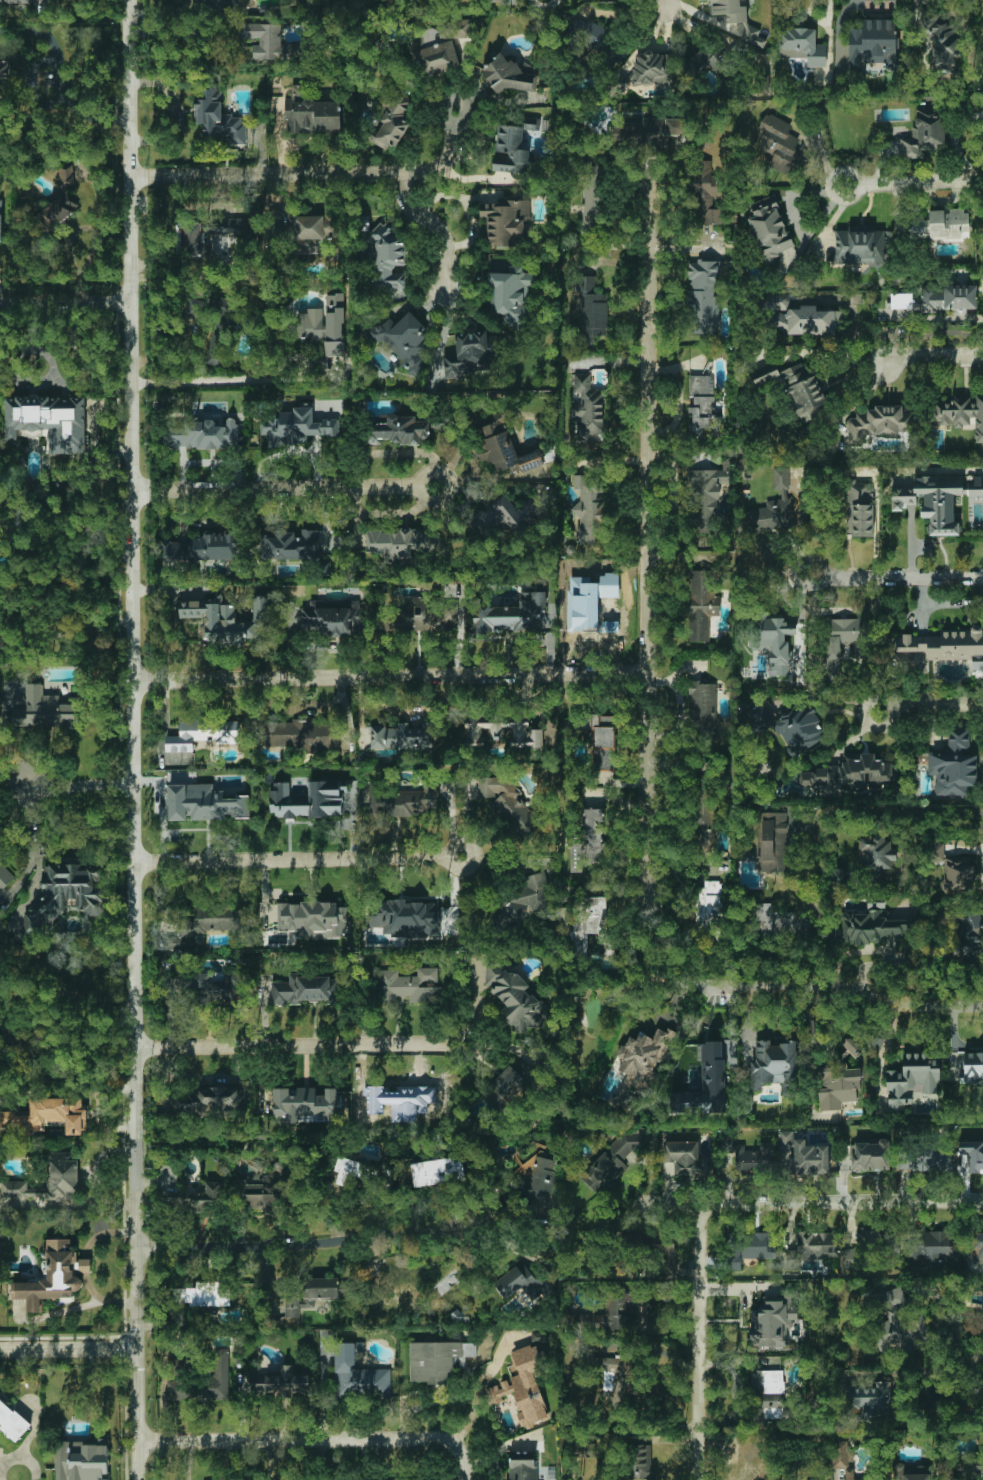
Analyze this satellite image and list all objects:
building: (21, 1)
building: (506, 1)
road: (158, 10)
building: (737, 19)
building: (942, 40)
building: (269, 42)
building: (874, 43)
building: (802, 46)
building: (439, 48)
building: (707, 58)
building: (648, 70)
building: (511, 75)
building: (5, 80)
building: (311, 113)
building: (218, 116)
road: (180, 117)
building: (393, 120)
building: (654, 131)
building: (924, 134)
building: (780, 145)
building: (511, 149)
road: (260, 150)
road: (850, 173)
road: (316, 175)
building: (66, 176)
road: (920, 182)
building: (704, 194)
building: (592, 195)
road: (790, 200)
building: (58, 211)
building: (1, 220)
building: (505, 221)
building: (229, 224)
road: (434, 225)
building: (939, 225)
building: (769, 226)
road: (808, 234)
building: (267, 236)
building: (191, 238)
building: (861, 246)
building: (387, 256)
building: (704, 297)
building: (939, 299)
road: (64, 301)
building: (194, 307)
building: (591, 308)
building: (800, 318)
road: (932, 318)
building: (325, 324)
building: (224, 329)
building: (403, 338)
building: (469, 354)
road: (931, 354)
road: (14, 373)
road: (232, 380)
building: (804, 392)
building: (701, 403)
building: (587, 408)
building: (960, 414)
building: (48, 421)
building: (878, 423)
building: (296, 426)
building: (401, 430)
building: (201, 435)
building: (504, 448)
road: (937, 470)
road: (275, 487)
road: (421, 492)
building: (705, 498)
building: (933, 501)
building: (773, 507)
building: (859, 509)
building: (587, 512)
building: (508, 515)
road: (649, 535)
building: (397, 543)
building: (290, 545)
building: (205, 547)
road: (893, 576)
building: (701, 604)
building: (422, 615)
building: (512, 615)
building: (332, 617)
building: (226, 619)
building: (4, 634)
building: (774, 641)
building: (842, 643)
building: (940, 648)
road: (389, 677)
road: (934, 703)
building: (702, 707)
building: (45, 710)
building: (794, 728)
building: (502, 731)
building: (203, 734)
building: (302, 734)
building: (401, 736)
road: (131, 740)
building: (605, 748)
road: (18, 757)
building: (954, 763)
building: (847, 774)
road: (78, 784)
building: (308, 799)
building: (402, 801)
building: (204, 803)
building: (509, 804)
road: (888, 811)
building: (702, 818)
road: (933, 825)
building: (589, 841)
building: (772, 842)
road: (453, 848)
building: (876, 855)
road: (291, 860)
building: (954, 870)
building: (5, 875)
building: (66, 892)
building: (707, 905)
building: (405, 918)
building: (313, 919)
building: (776, 921)
building: (209, 922)
building: (590, 923)
building: (873, 927)
building: (967, 938)
road: (648, 960)
building: (408, 985)
building: (307, 990)
road: (834, 990)
building: (171, 992)
building: (515, 998)
building: (4, 1027)
road: (452, 1040)
road: (882, 1044)
road: (292, 1047)
building: (852, 1047)
building: (728, 1049)
building: (643, 1058)
building: (774, 1065)
building: (973, 1067)
building: (912, 1080)
building: (705, 1084)
building: (509, 1085)
building: (837, 1085)
building: (208, 1101)
building: (412, 1101)
building: (305, 1103)
building: (48, 1116)
building: (973, 1155)
building: (871, 1156)
building: (688, 1158)
building: (809, 1158)
building: (928, 1159)
building: (611, 1163)
building: (354, 1170)
building: (438, 1171)
building: (49, 1181)
building: (538, 1181)
building: (269, 1191)
building: (197, 1200)
road: (811, 1202)
road: (101, 1233)
road: (307, 1244)
building: (931, 1244)
building: (816, 1245)
building: (653, 1247)
building: (977, 1247)
building: (749, 1248)
building: (869, 1248)
road: (84, 1266)
building: (53, 1276)
building: (519, 1283)
building: (320, 1287)
road: (91, 1288)
building: (202, 1294)
road: (85, 1305)
building: (292, 1306)
building: (610, 1313)
building: (458, 1316)
building: (893, 1317)
building: (769, 1323)
road: (696, 1342)
road: (68, 1348)
building: (438, 1360)
road: (980, 1367)
building: (358, 1374)
building: (614, 1379)
road: (482, 1382)
building: (280, 1383)
building: (523, 1385)
building: (769, 1390)
building: (869, 1400)
building: (13, 1421)
road: (316, 1438)
building: (841, 1455)
building: (81, 1460)
building: (638, 1462)
building: (521, 1466)
building: (977, 1467)
building: (733, 1471)
building: (911, 1472)
building: (848, 1474)

